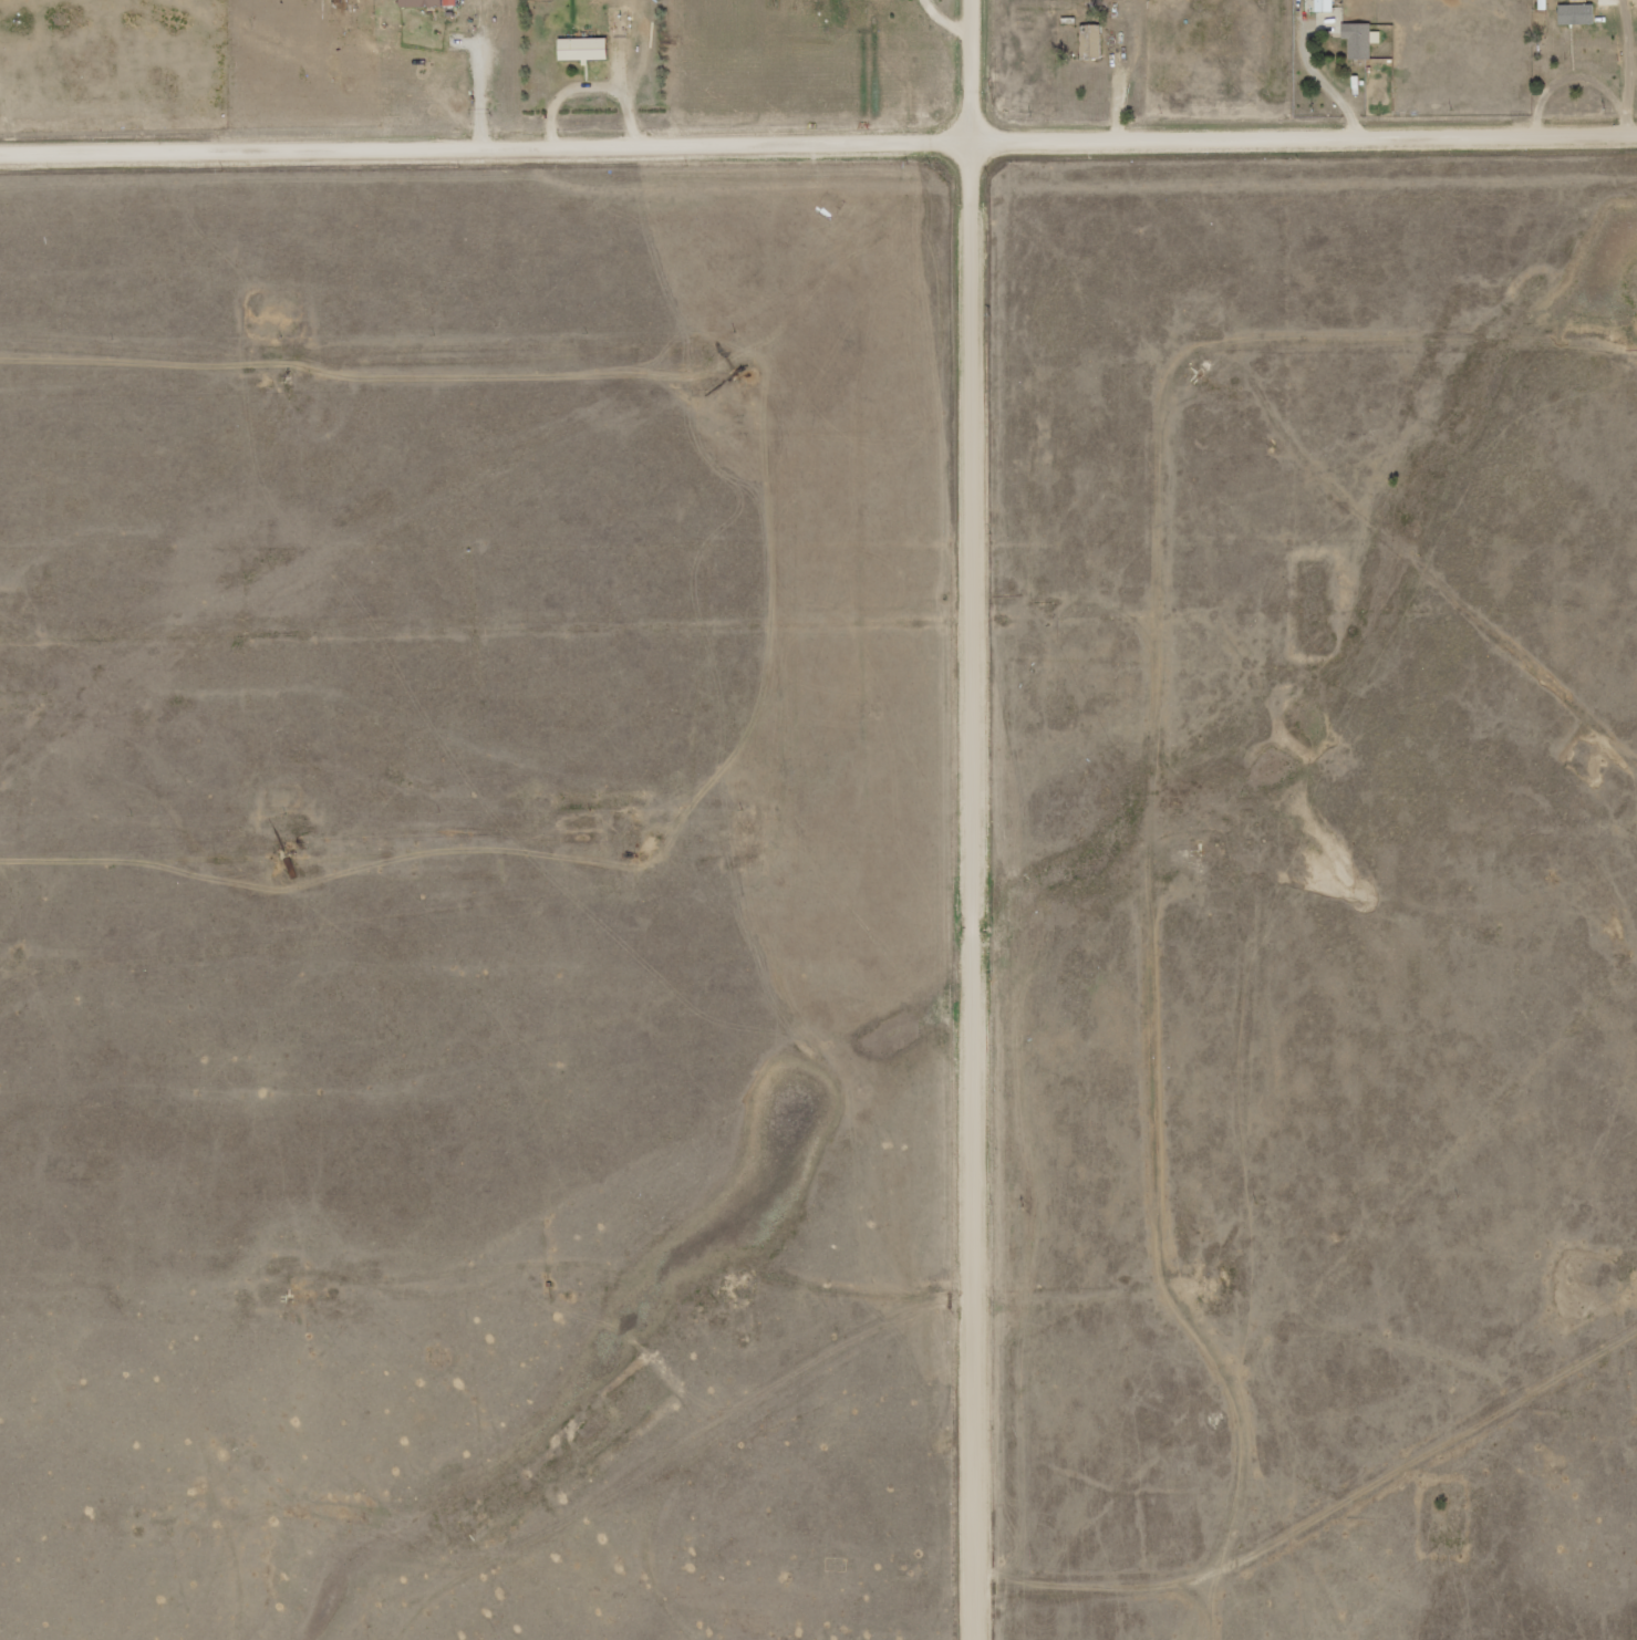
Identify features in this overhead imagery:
building: (428, 2)
building: (1324, 4)
building: (1576, 12)
building: (1360, 38)
building: (1091, 40)
building: (582, 48)
road: (818, 141)
road: (978, 820)

